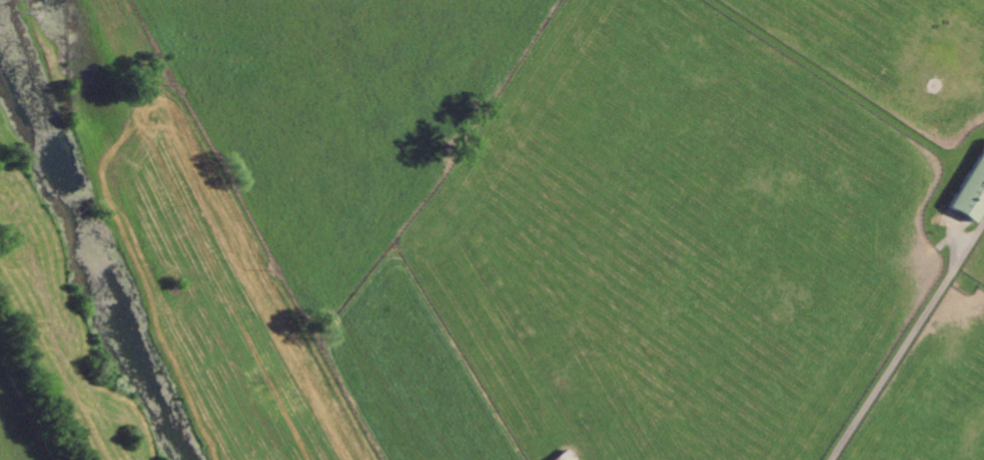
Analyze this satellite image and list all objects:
building: (973, 194)
road: (907, 340)

